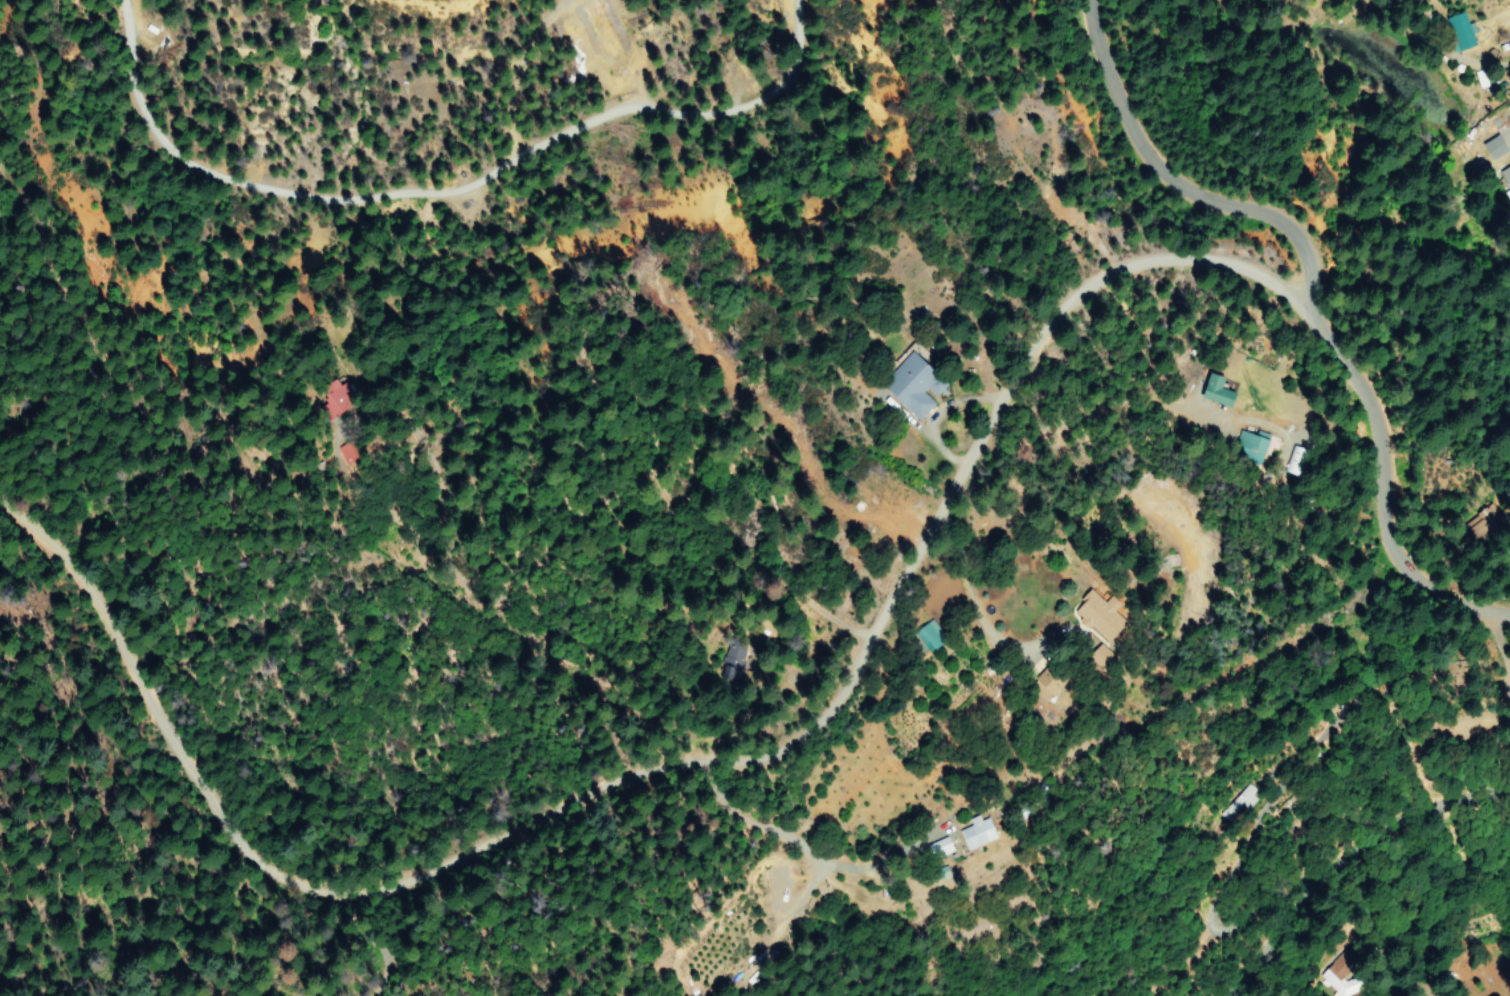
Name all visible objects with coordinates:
building: (1457, 31)
building: (1490, 147)
road: (408, 162)
building: (1505, 176)
road: (1175, 186)
building: (916, 383)
building: (1220, 390)
building: (337, 395)
road: (1044, 402)
building: (1252, 444)
building: (1299, 459)
road: (1382, 489)
building: (1102, 617)
building: (931, 635)
building: (732, 664)
building: (1052, 678)
road: (679, 782)
building: (1236, 804)
building: (981, 831)
building: (942, 847)
road: (1347, 873)
building: (1338, 984)

